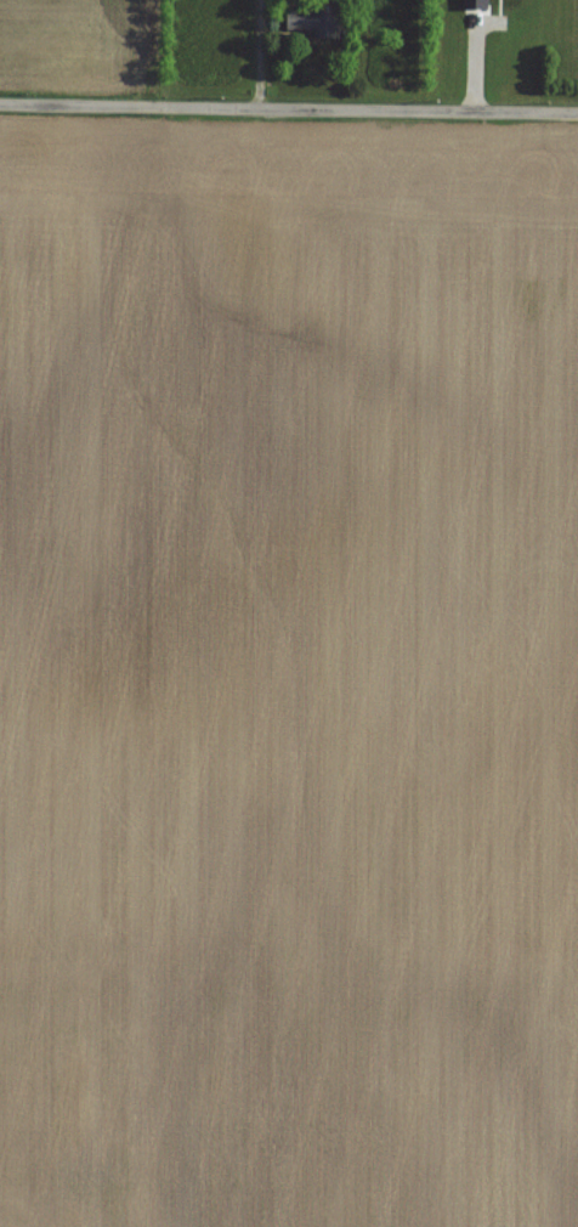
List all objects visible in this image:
building: (313, 22)
road: (255, 55)
road: (288, 109)

